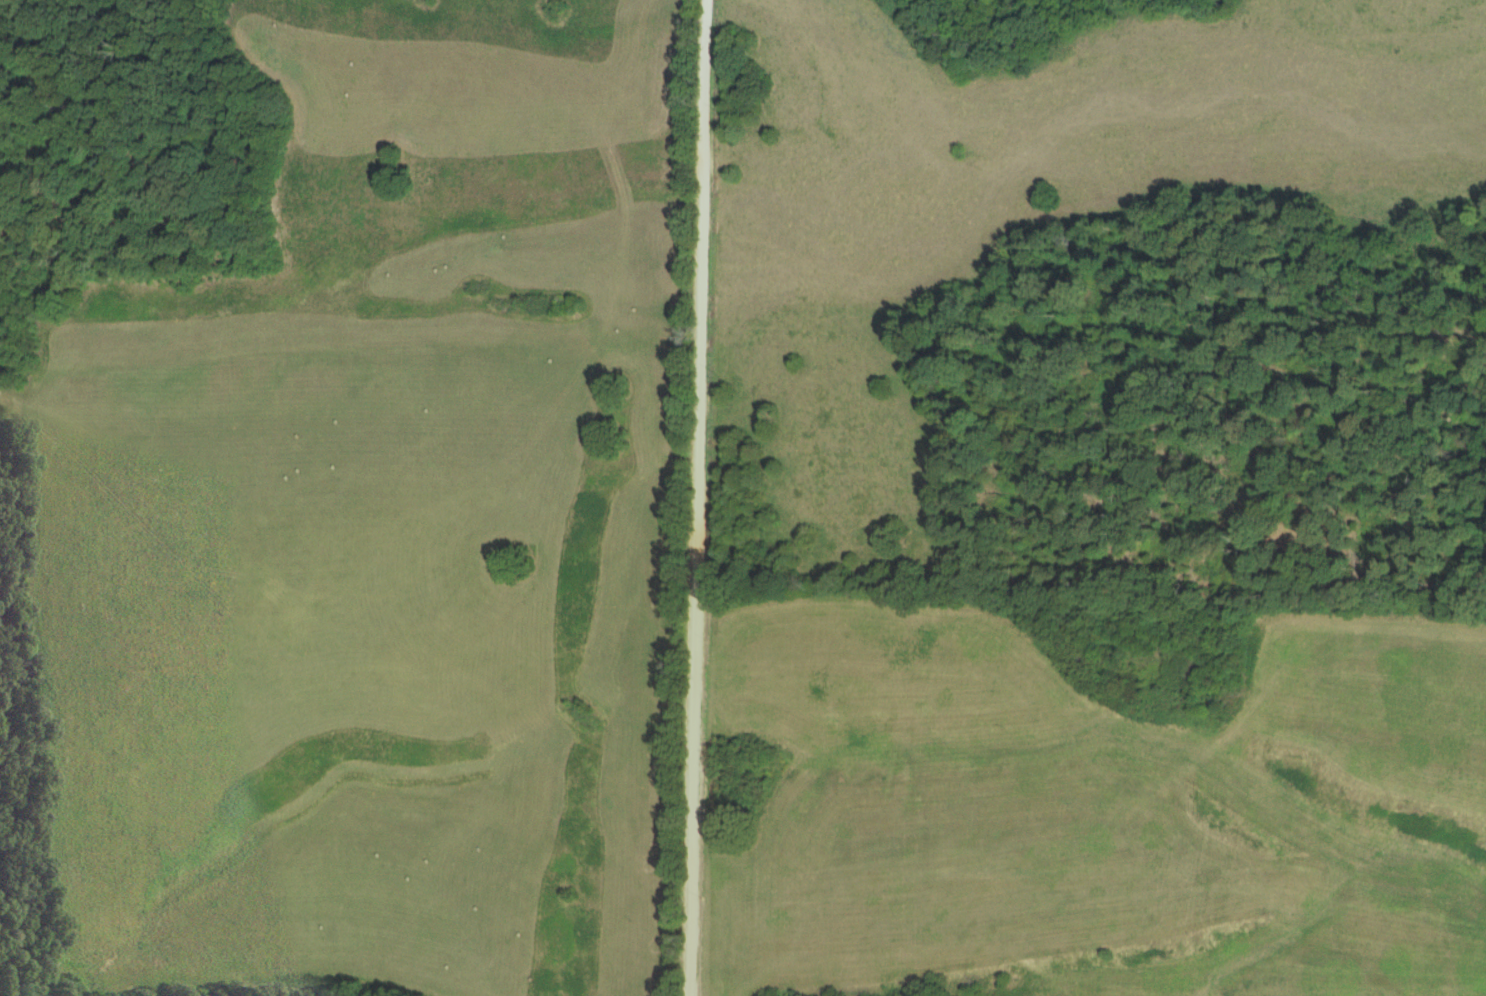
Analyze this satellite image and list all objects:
road: (700, 498)

